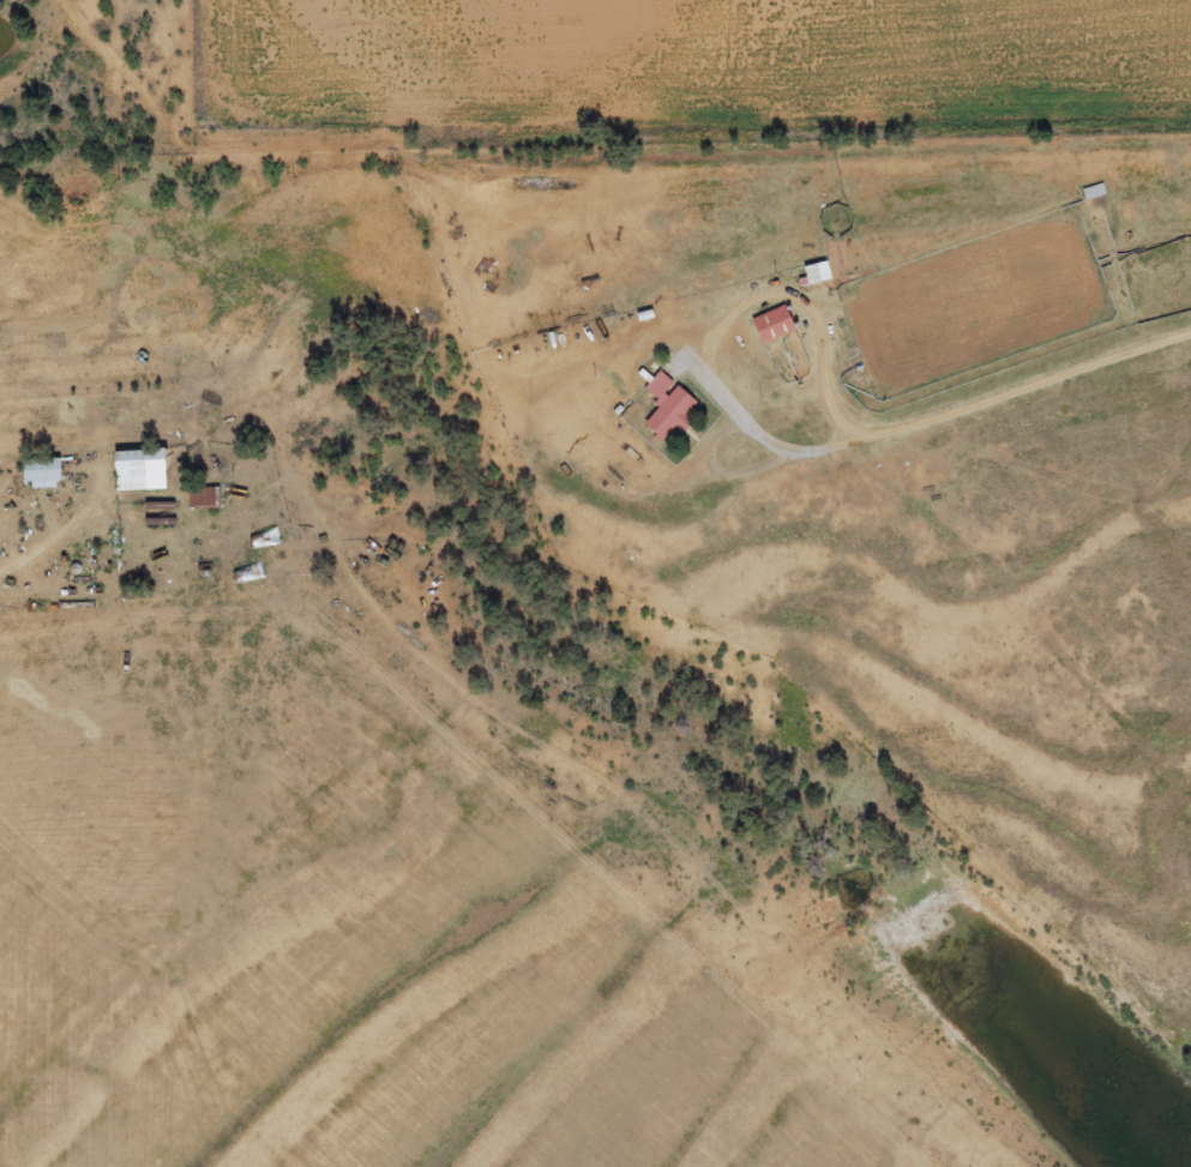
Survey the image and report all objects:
building: (819, 272)
building: (776, 324)
building: (670, 407)
building: (143, 470)
building: (44, 474)
building: (206, 497)
road: (499, 792)
road: (1076, 922)

